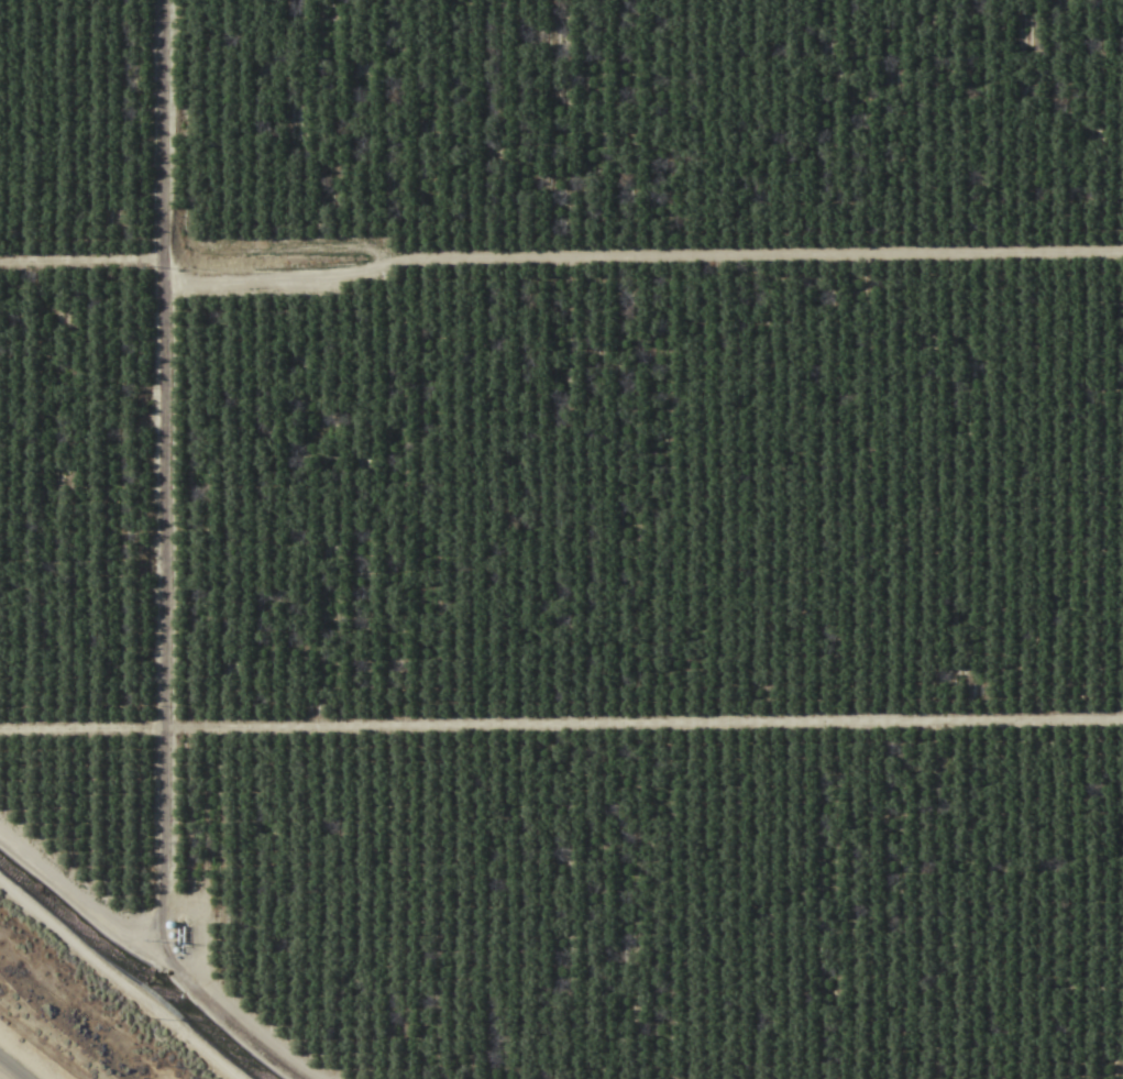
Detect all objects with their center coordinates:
road: (147, 364)
road: (38, 1044)

